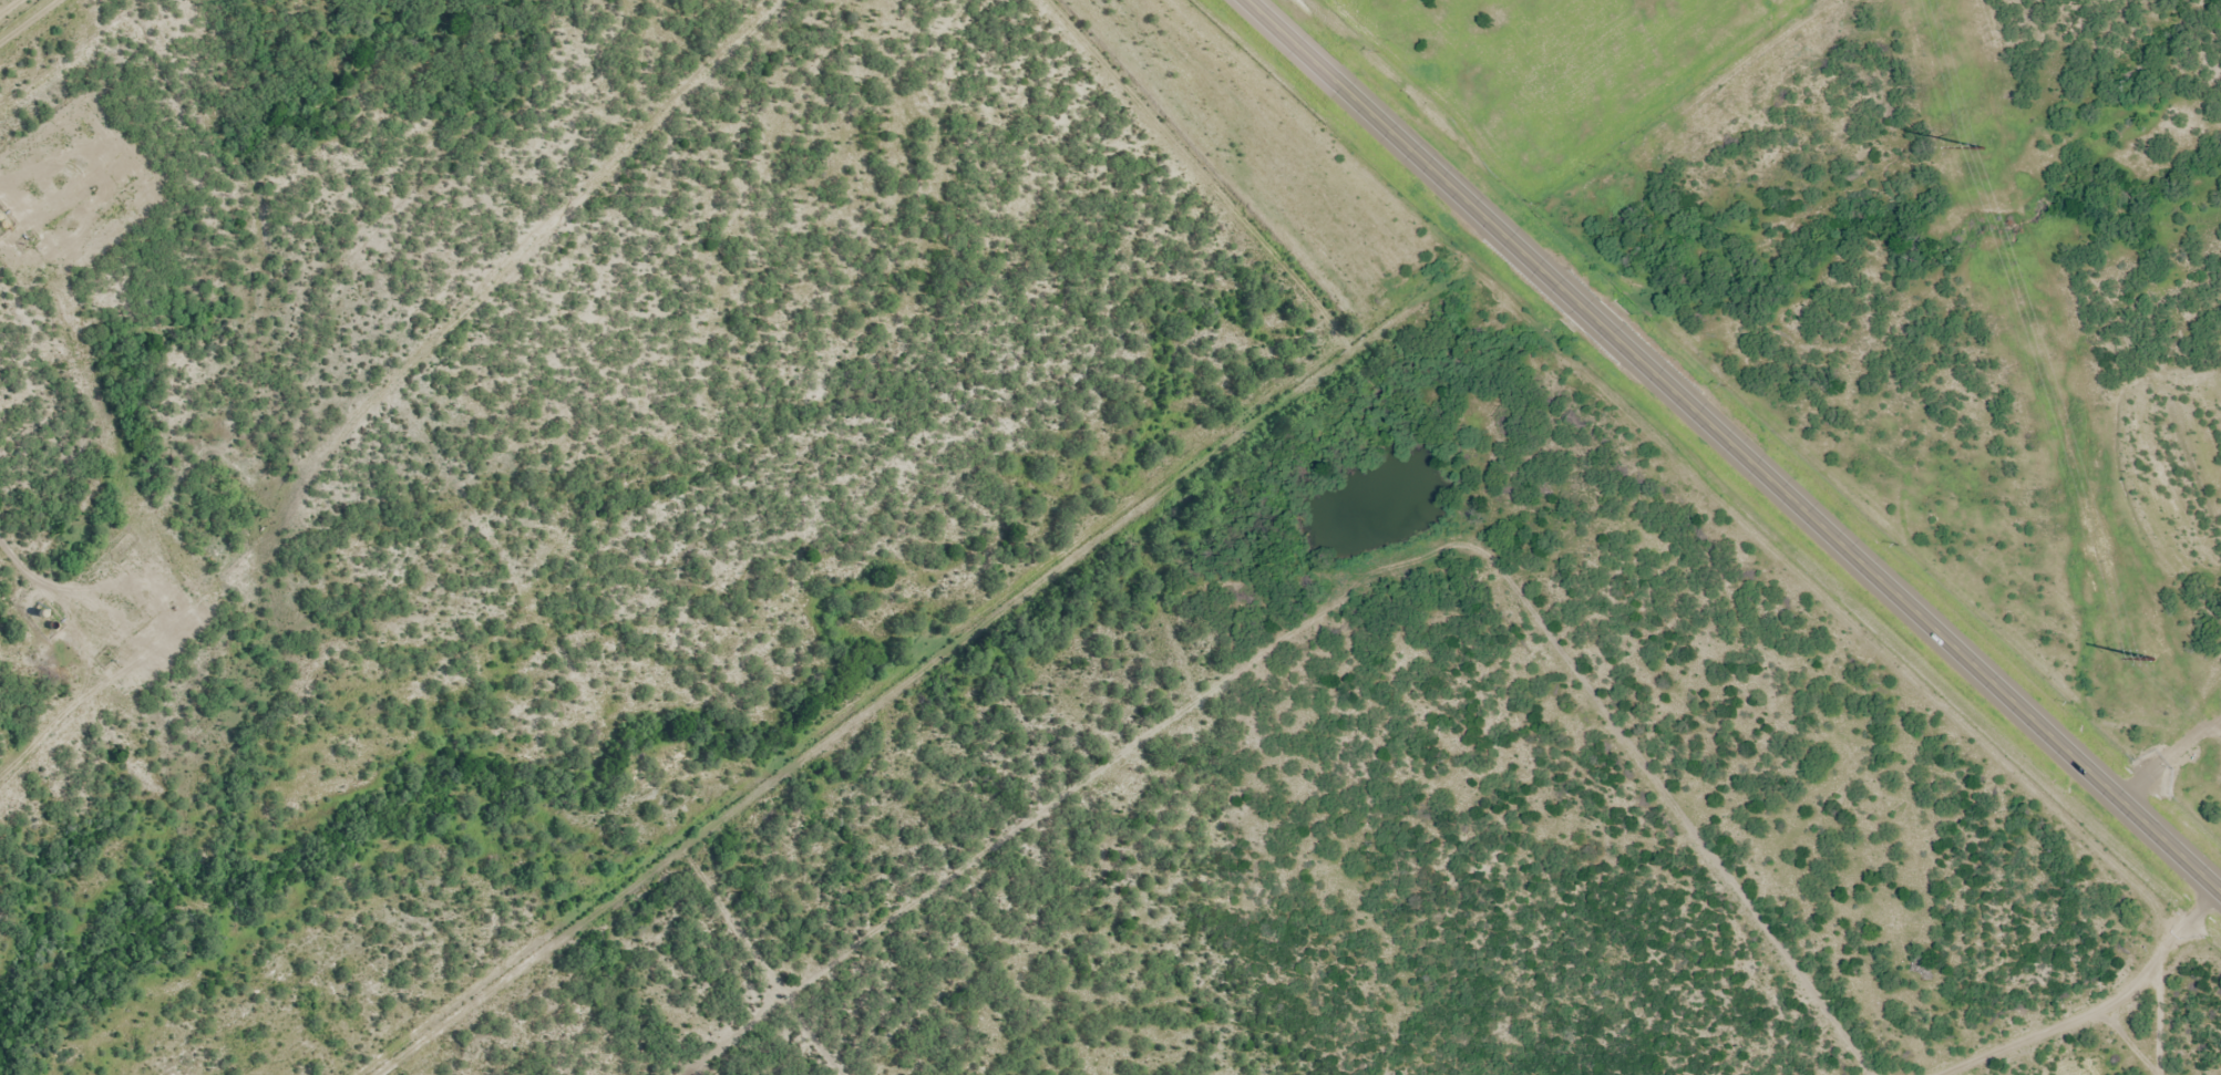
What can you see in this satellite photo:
road: (1635, 124)
power tower: (1983, 148)
road: (1739, 443)
power tower: (2152, 659)
road: (2172, 758)
road: (2093, 1006)

